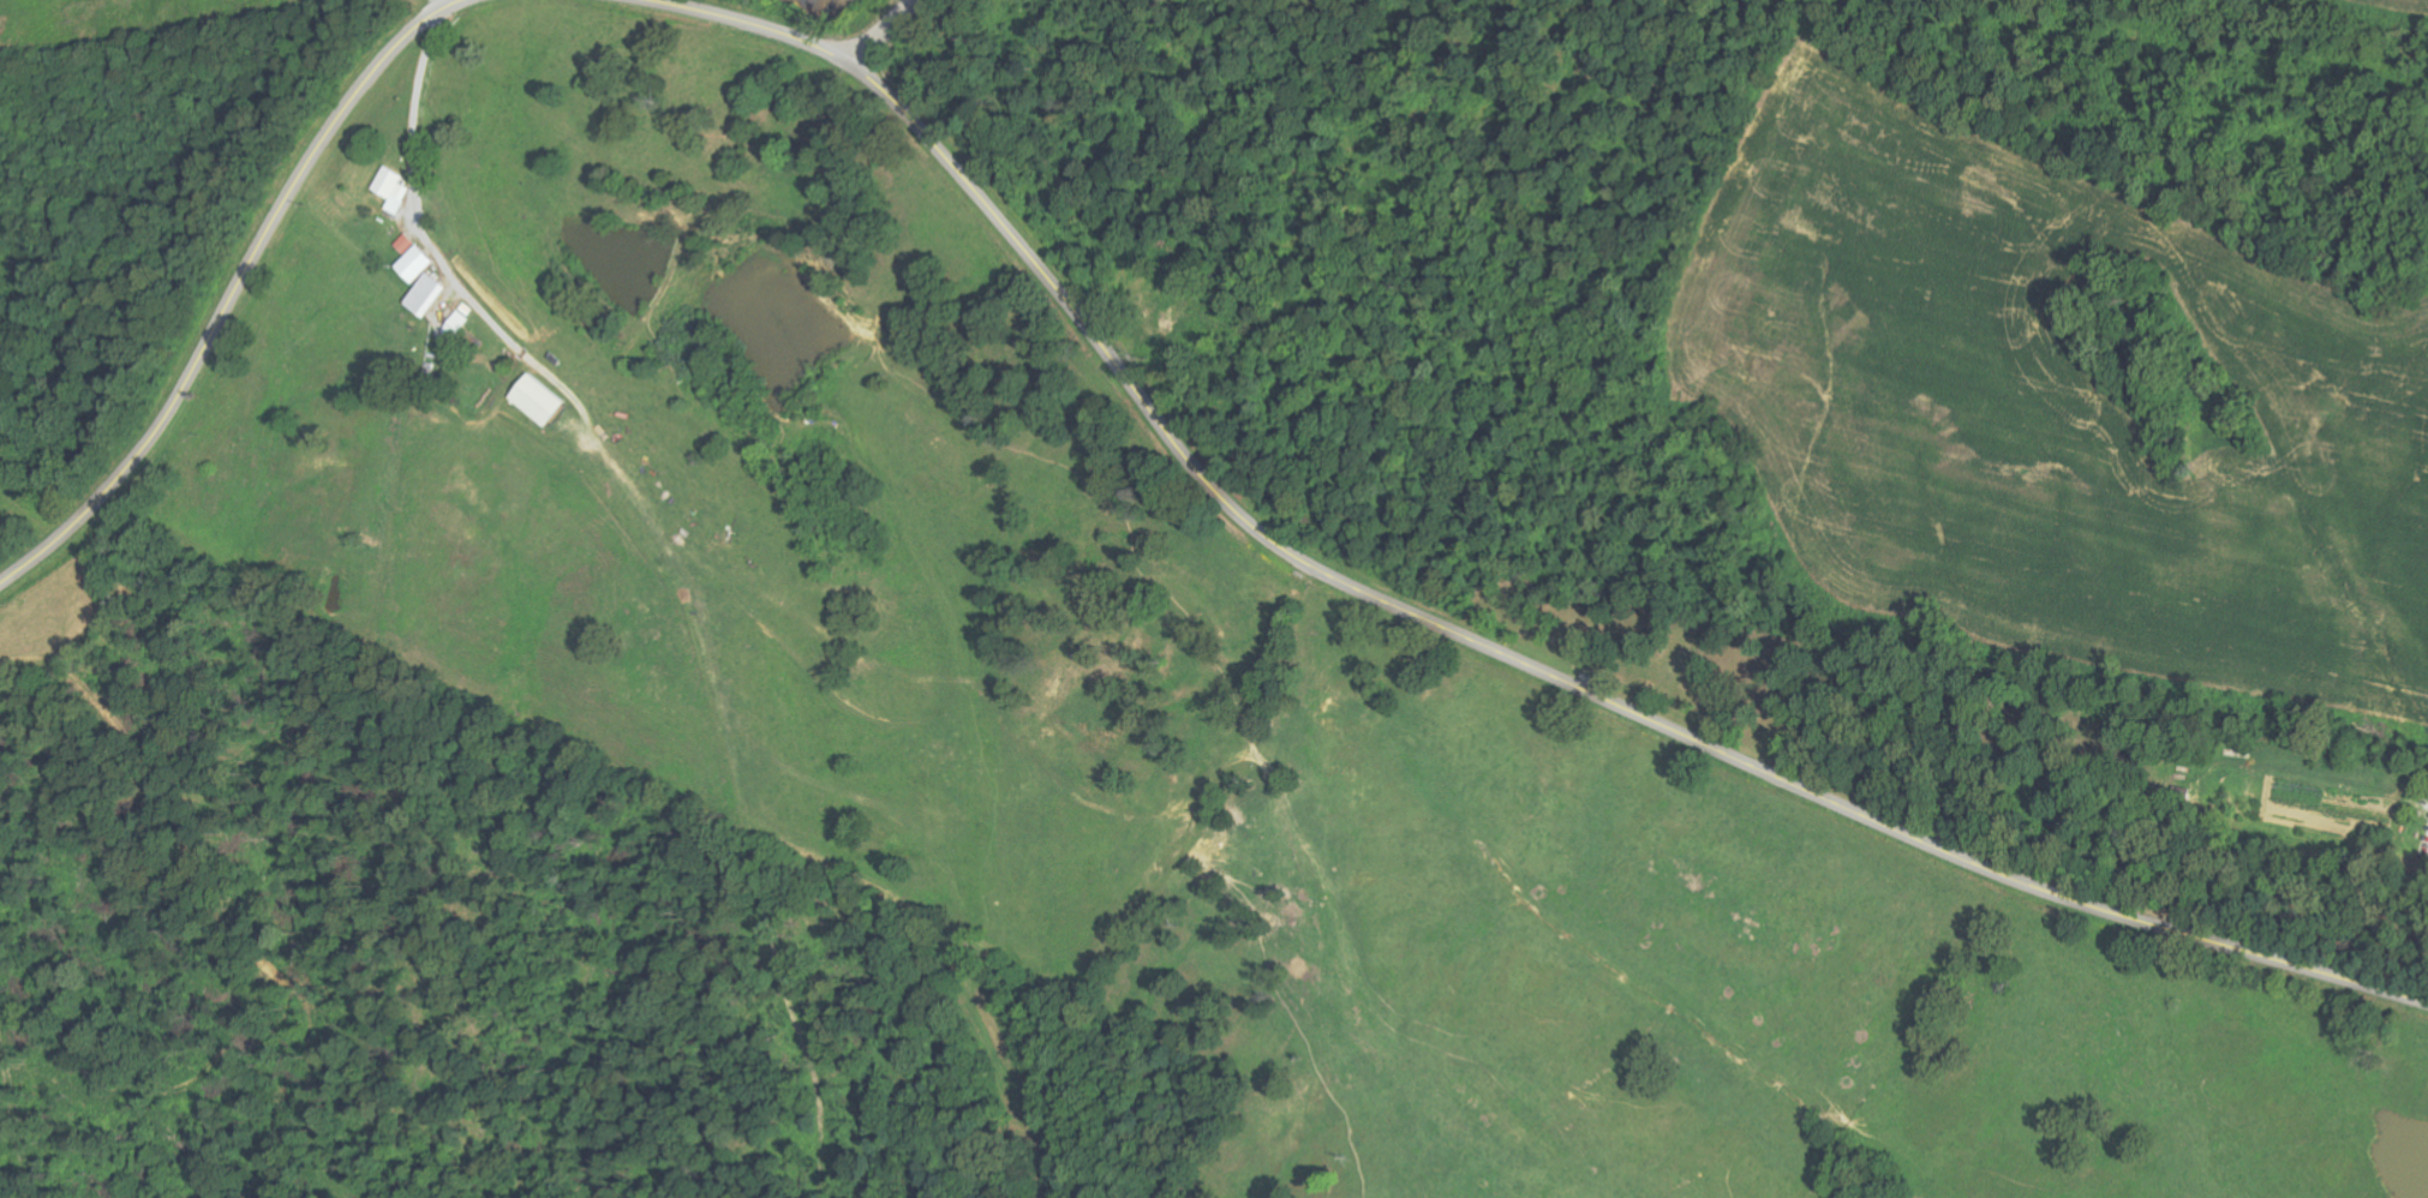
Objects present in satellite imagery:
road: (450, 2)
road: (875, 30)
building: (397, 188)
building: (411, 242)
building: (421, 263)
road: (234, 294)
building: (432, 294)
building: (544, 400)
road: (1446, 628)

